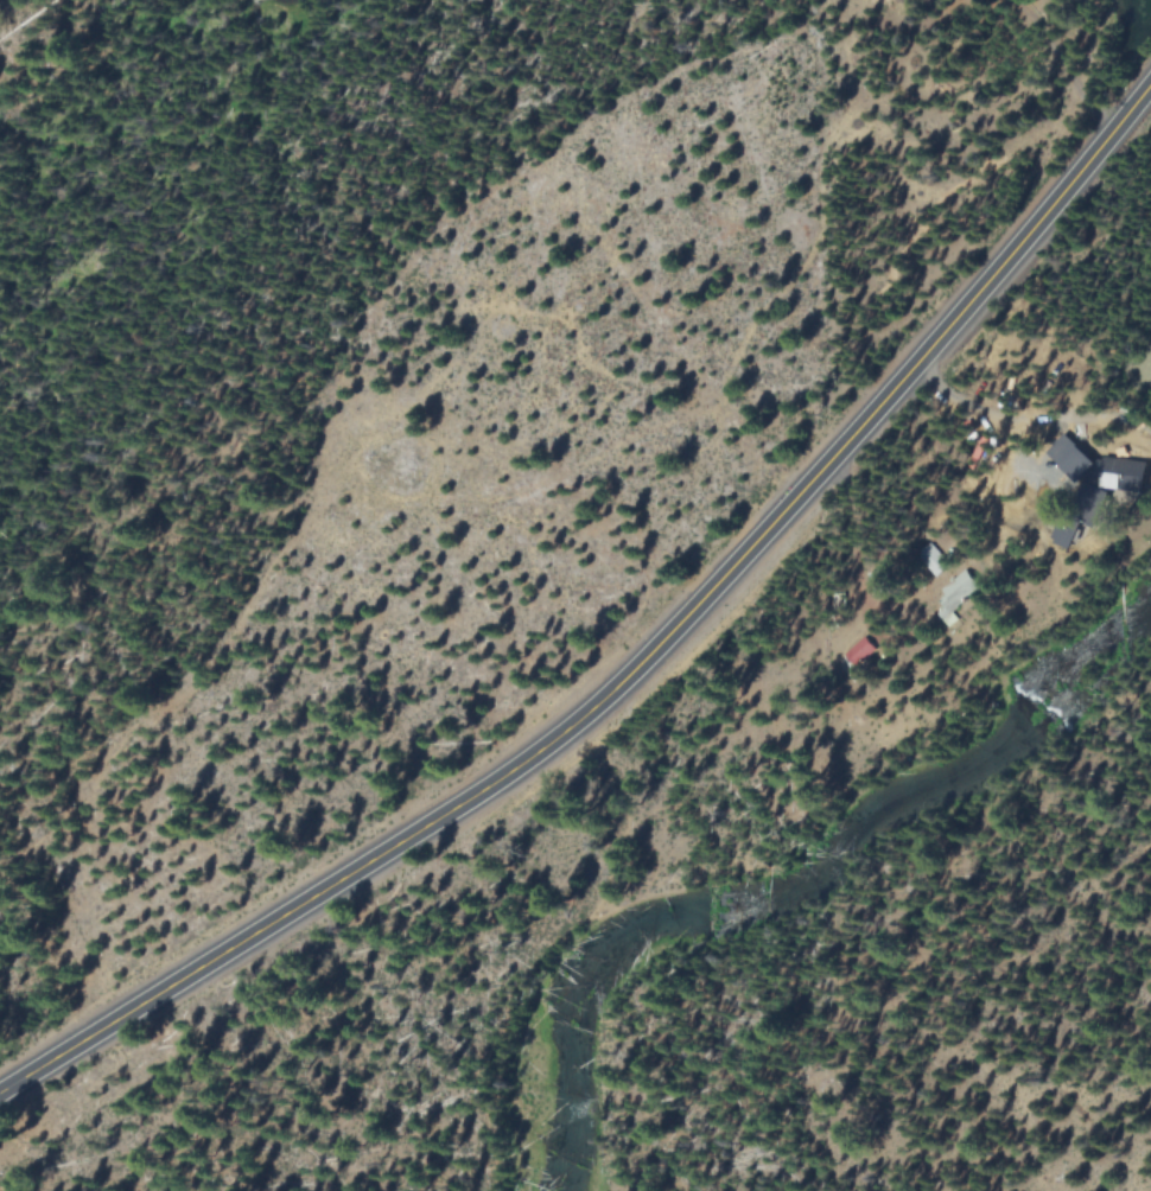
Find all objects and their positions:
road: (1067, 63)
road: (1139, 102)
road: (1011, 428)
building: (1068, 457)
building: (1119, 480)
building: (1079, 514)
road: (854, 534)
building: (931, 559)
building: (958, 590)
road: (628, 680)
river: (805, 881)
road: (923, 980)

